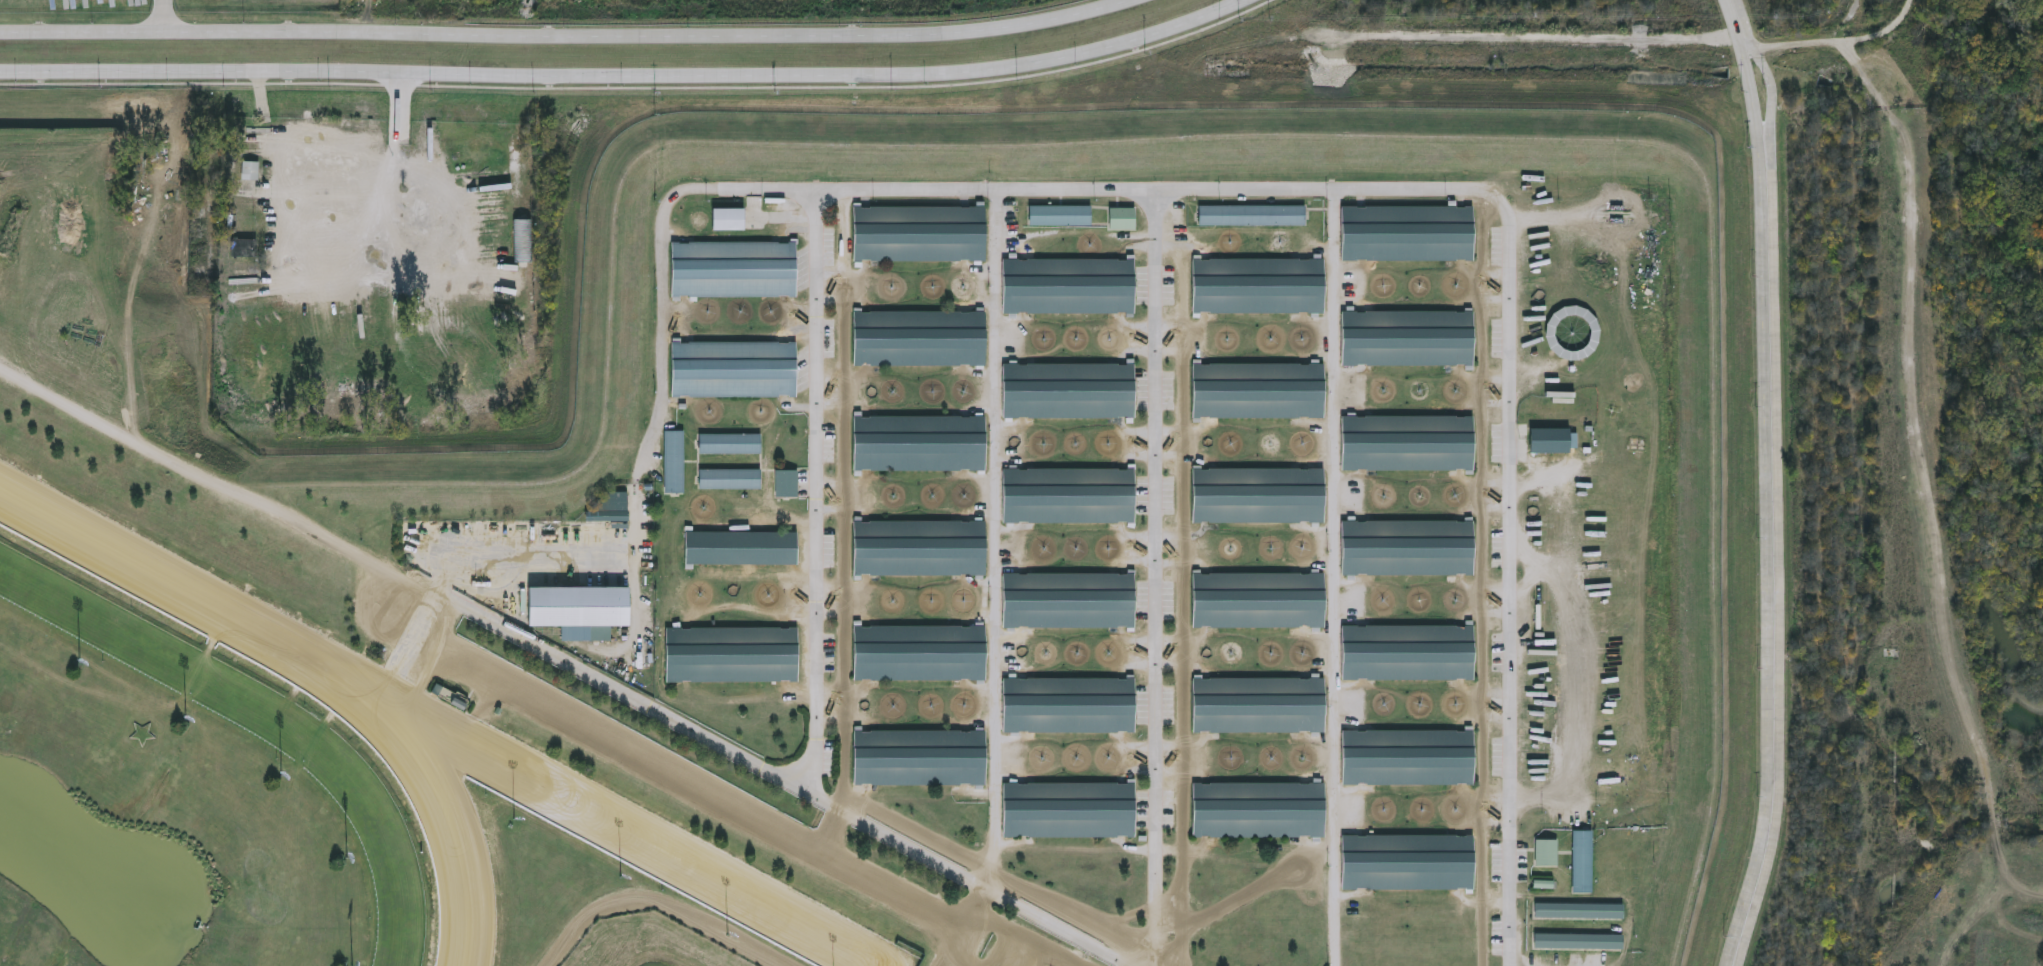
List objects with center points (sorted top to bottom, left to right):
road: (164, 15)
road: (566, 32)
road: (632, 77)
building: (251, 173)
road: (1268, 188)
building: (1060, 215)
building: (1251, 215)
building: (1122, 218)
building: (728, 220)
building: (917, 231)
building: (1405, 231)
building: (525, 242)
building: (244, 249)
building: (732, 268)
road: (342, 277)
building: (1255, 284)
building: (1067, 286)
building: (1572, 333)
building: (1406, 335)
building: (918, 337)
building: (732, 366)
building: (1069, 390)
building: (1257, 390)
road: (1913, 424)
building: (1552, 440)
building: (918, 442)
building: (1406, 442)
building: (730, 444)
building: (674, 462)
building: (730, 479)
road: (1767, 482)
road: (1779, 483)
building: (786, 484)
road: (818, 492)
building: (1258, 494)
building: (1070, 495)
building: (610, 509)
road: (324, 537)
road: (997, 539)
building: (918, 546)
building: (1406, 546)
building: (740, 547)
road: (1156, 577)
road: (1336, 577)
building: (1258, 598)
building: (1069, 599)
building: (580, 610)
building: (1408, 649)
building: (915, 652)
building: (729, 653)
building: (452, 700)
building: (1070, 705)
building: (1257, 705)
building: (917, 756)
building: (1410, 756)
track: (272, 782)
road: (701, 787)
building: (1069, 807)
building: (1257, 809)
road: (829, 830)
road: (890, 834)
building: (1546, 853)
building: (1408, 860)
building: (1582, 862)
building: (1543, 883)
road: (1247, 895)
building: (1750, 906)
building: (1579, 911)
building: (1579, 941)

